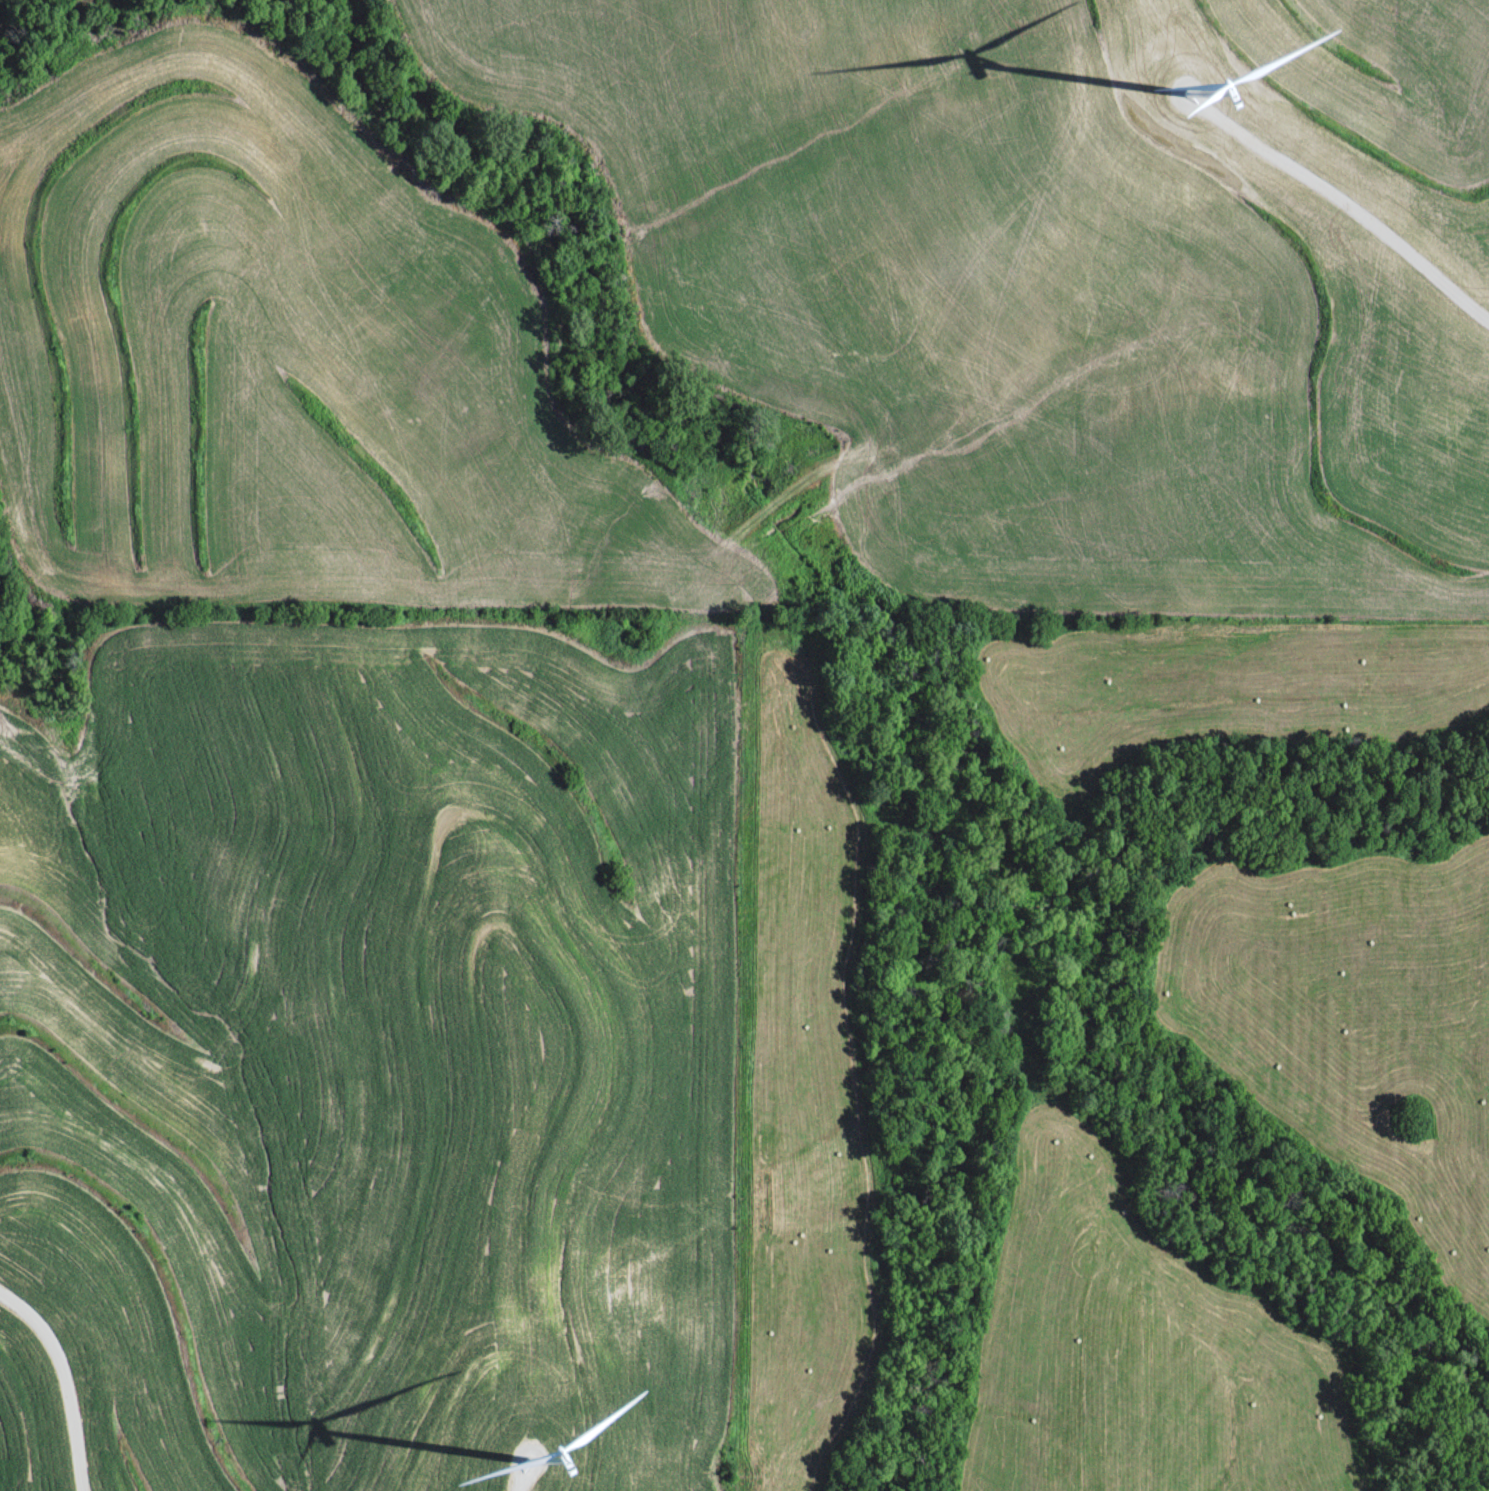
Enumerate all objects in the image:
wind turbine: (1200, 96)
wind turbine: (528, 1449)

